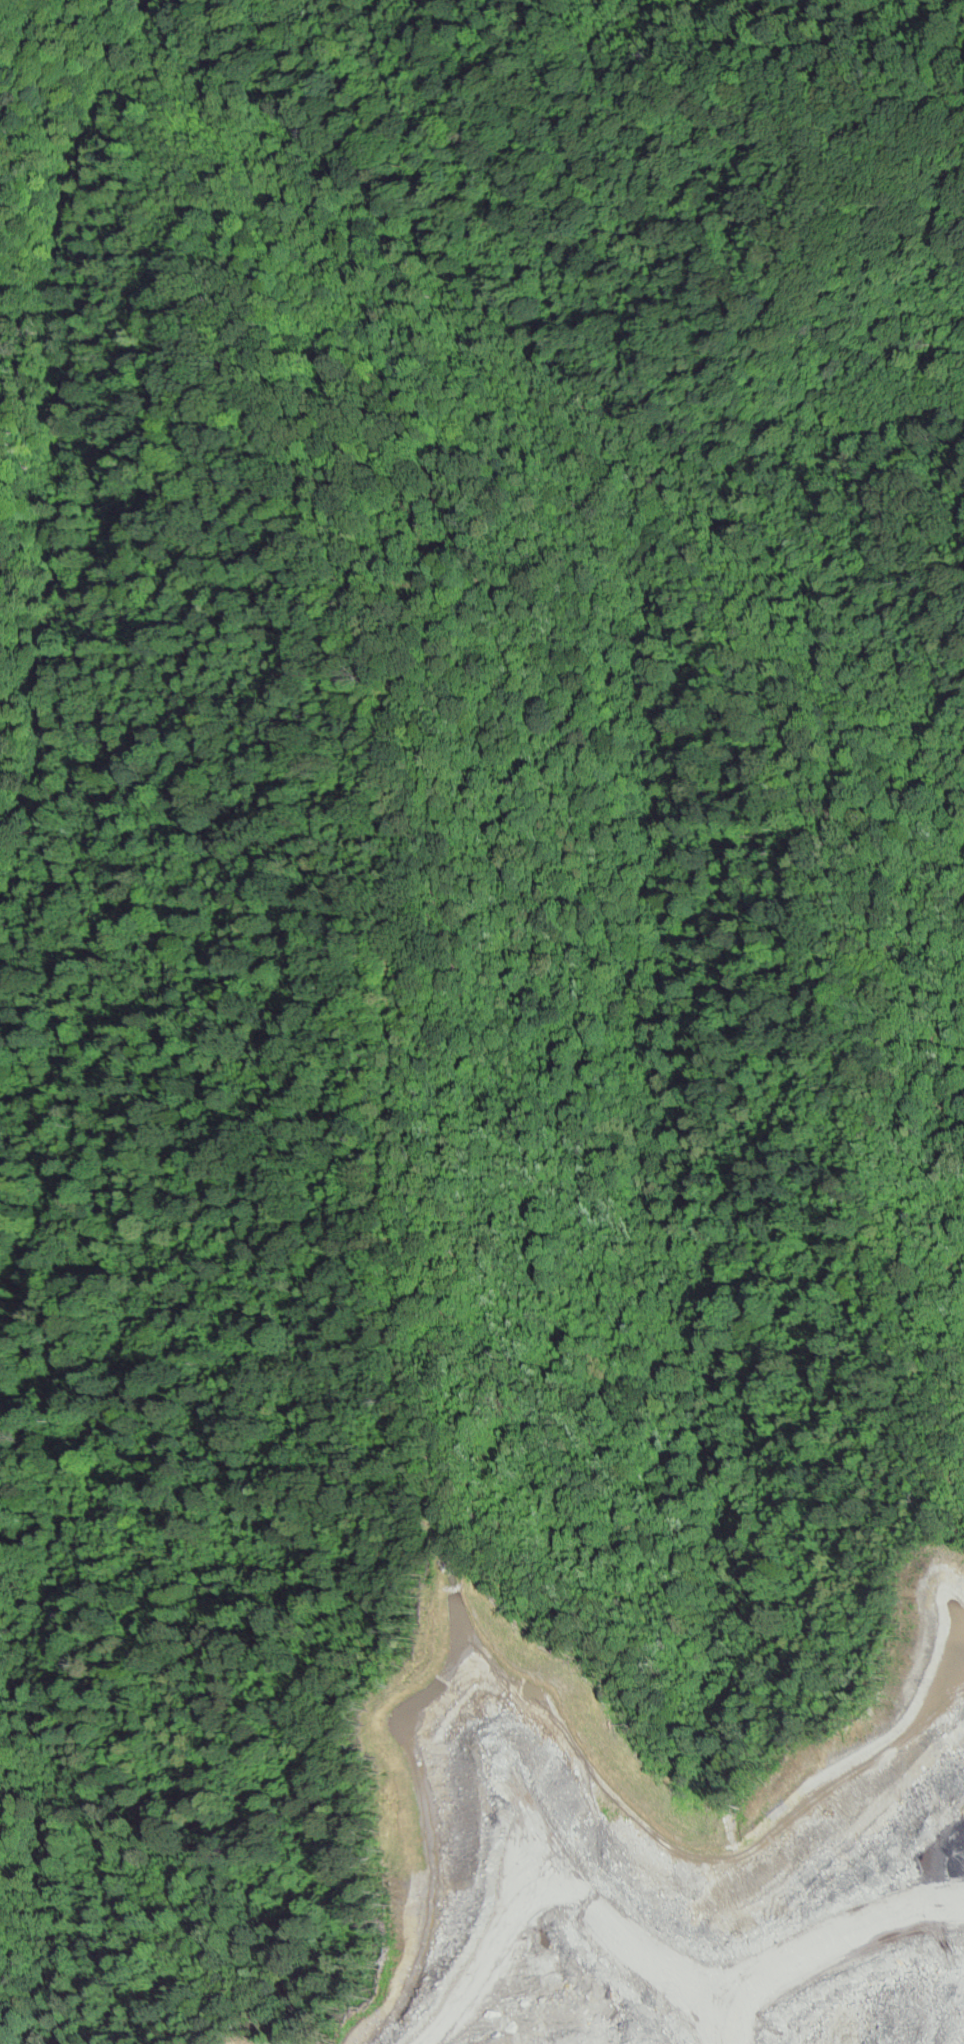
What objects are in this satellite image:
quarry: (646, 1841)

